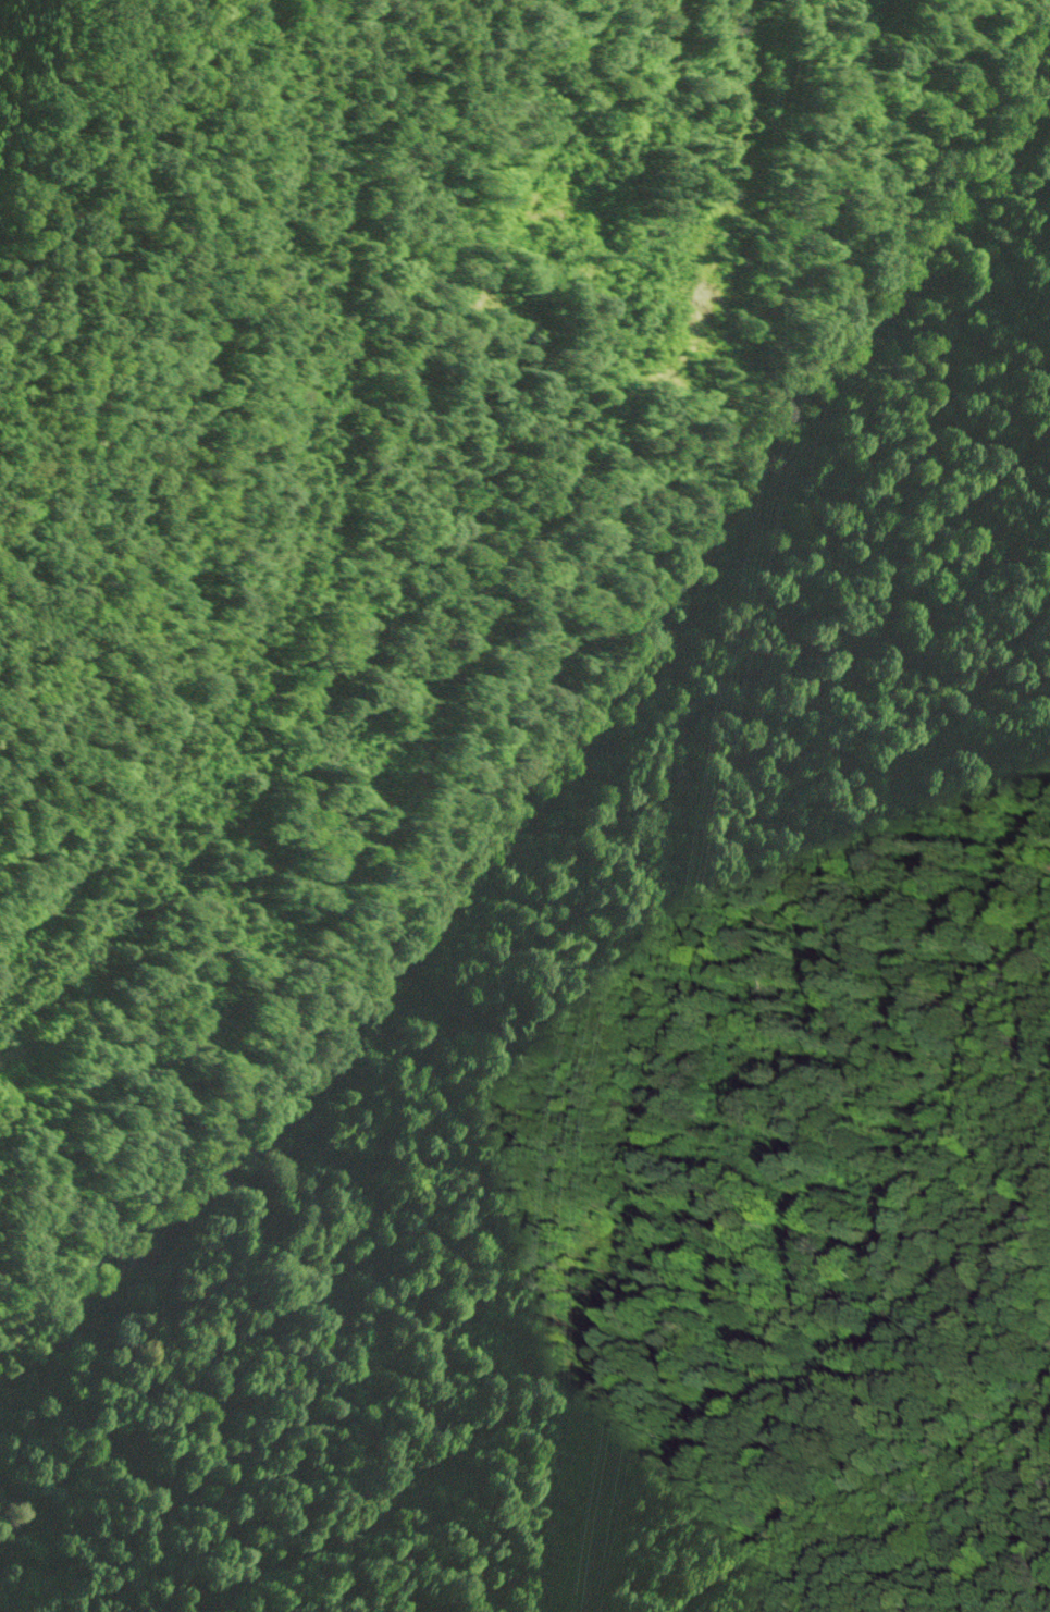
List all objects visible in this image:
road: (518, 761)

